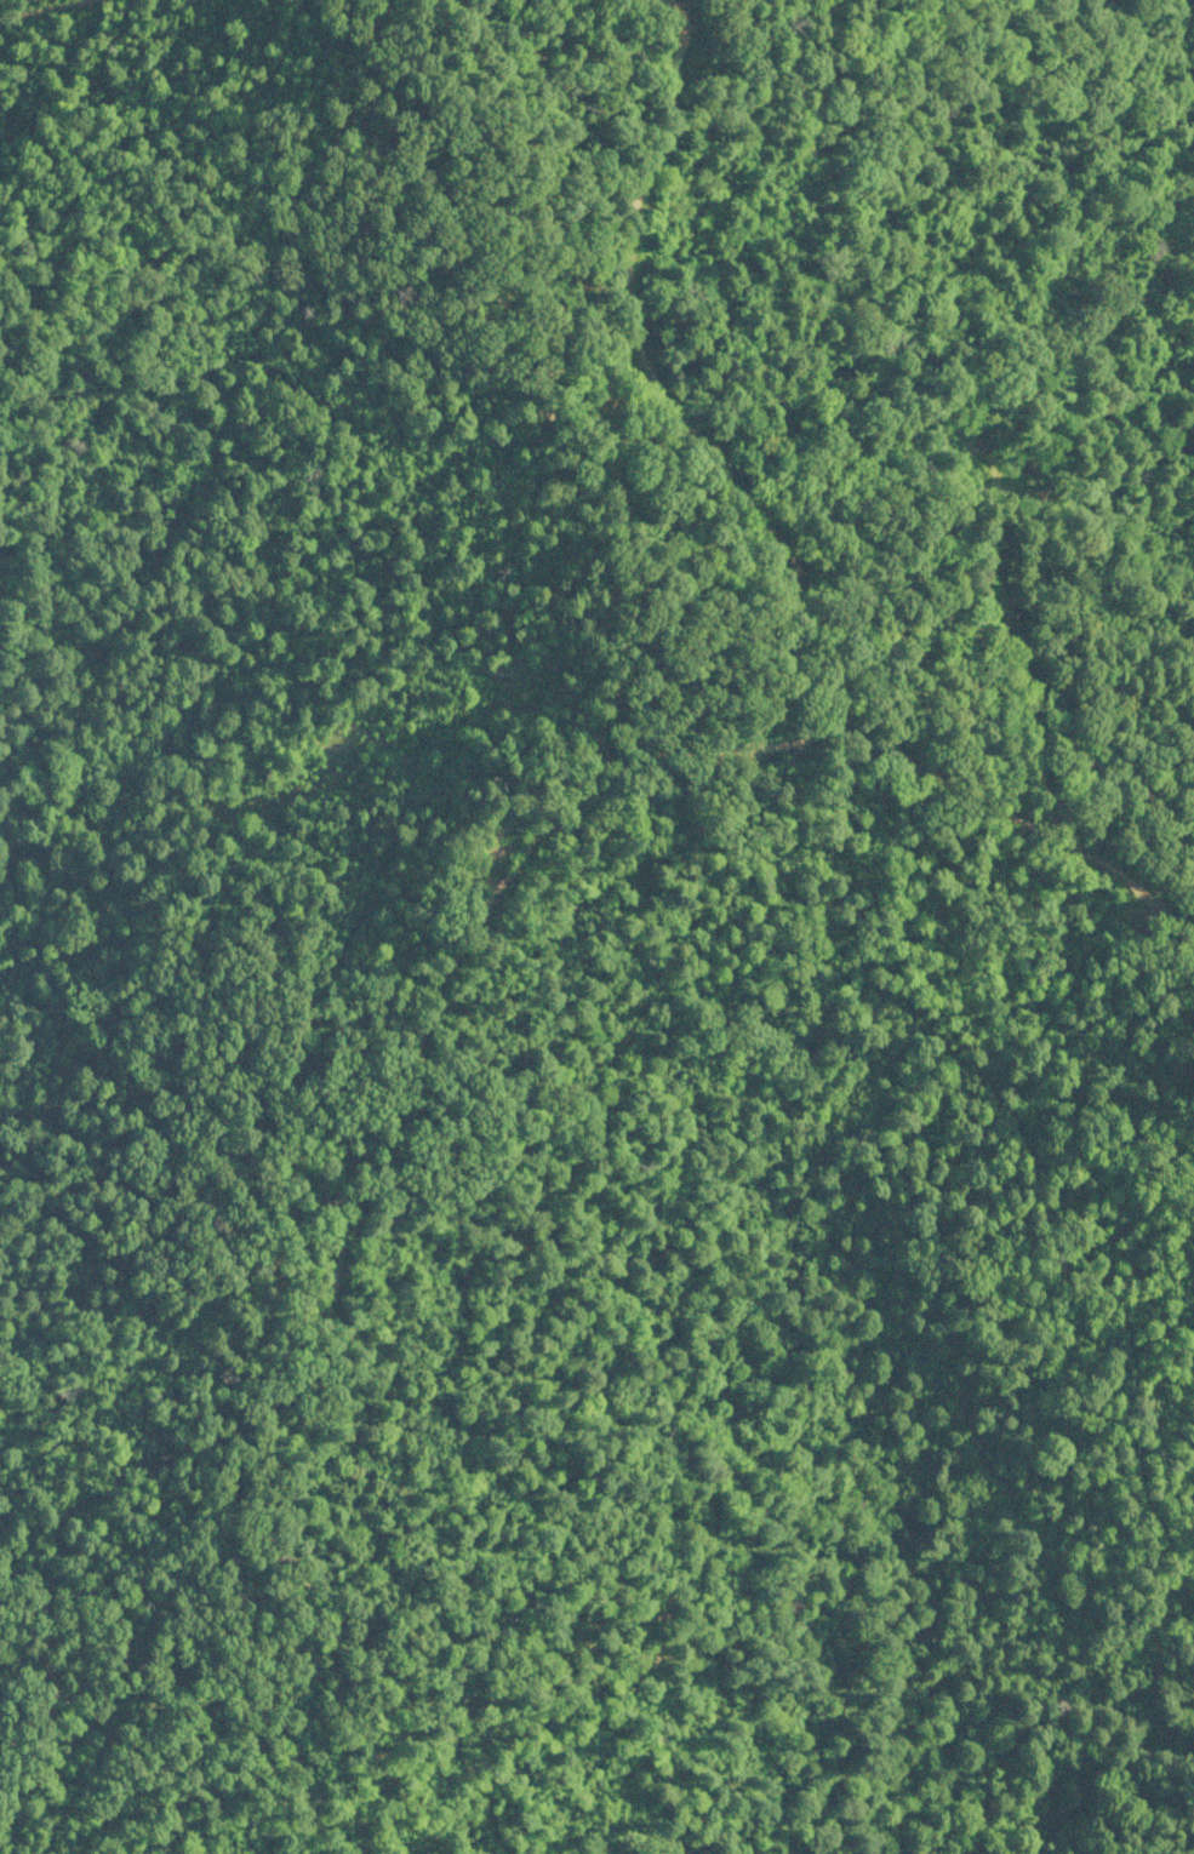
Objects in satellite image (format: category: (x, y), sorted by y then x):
road: (673, 1467)

